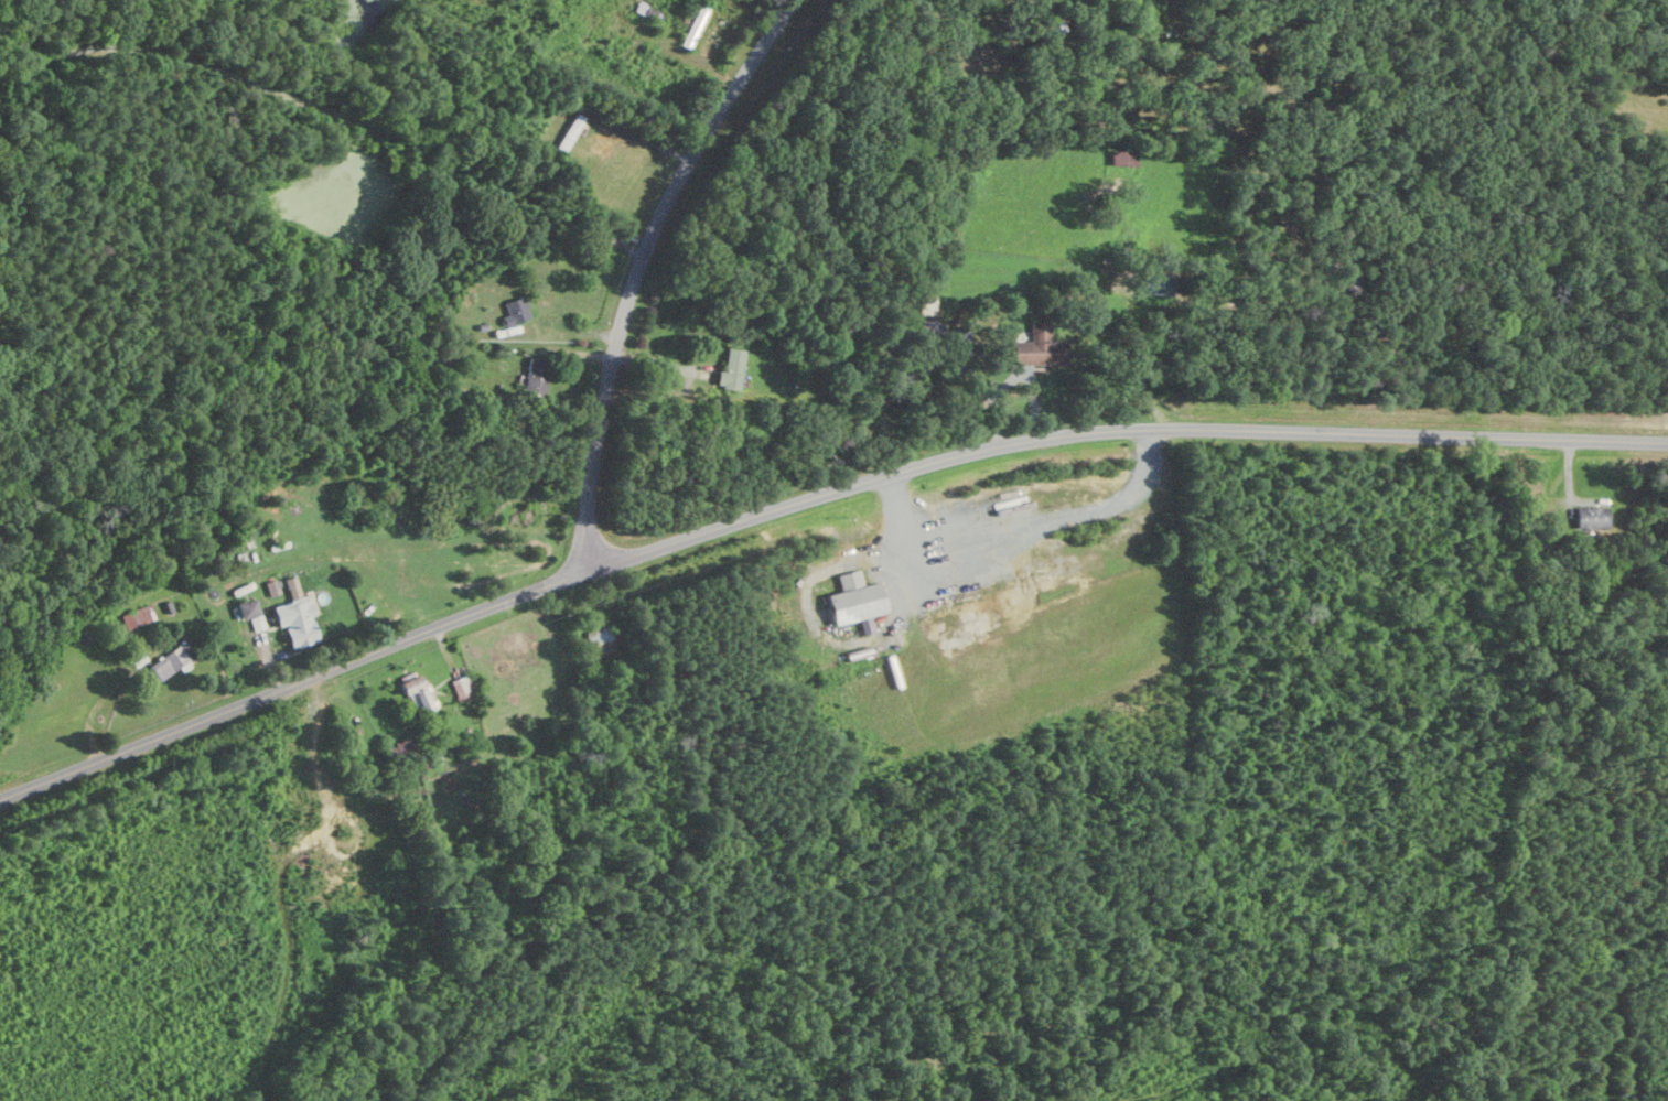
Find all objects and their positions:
road: (330, 110)
road: (643, 138)
road: (638, 269)
building: (515, 310)
road: (664, 363)
road: (1133, 368)
building: (734, 369)
road: (1031, 390)
road: (989, 398)
road: (810, 499)
road: (1032, 528)
building: (861, 597)
building: (269, 603)
building: (252, 613)
building: (136, 617)
building: (300, 620)
road: (831, 636)

